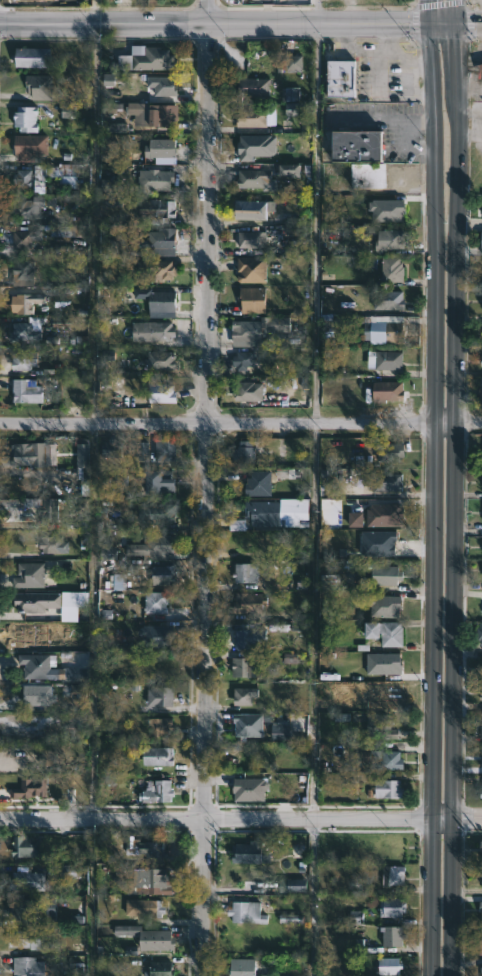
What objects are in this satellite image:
building: (29, 0)
building: (117, 0)
building: (117, 1)
road: (437, 3)
road: (466, 3)
road: (316, 12)
road: (468, 23)
road: (411, 24)
road: (241, 25)
traffic signals: (426, 25)
traffic signals: (450, 25)
road: (441, 41)
building: (35, 57)
building: (153, 59)
building: (293, 65)
building: (478, 69)
building: (361, 77)
building: (336, 79)
building: (161, 85)
building: (41, 86)
building: (251, 87)
building: (158, 115)
building: (249, 118)
building: (25, 119)
building: (350, 146)
building: (27, 149)
building: (158, 152)
building: (68, 171)
building: (290, 172)
building: (27, 175)
building: (365, 175)
building: (151, 176)
building: (250, 179)
building: (30, 208)
building: (252, 209)
building: (153, 210)
road: (467, 213)
road: (318, 223)
road: (97, 224)
building: (161, 238)
building: (21, 239)
building: (391, 239)
building: (252, 240)
building: (480, 240)
building: (248, 269)
building: (391, 269)
building: (159, 270)
building: (21, 274)
building: (152, 298)
building: (250, 300)
building: (386, 301)
building: (27, 304)
building: (327, 323)
building: (275, 324)
building: (381, 329)
building: (27, 331)
building: (154, 332)
building: (246, 333)
building: (26, 360)
building: (246, 360)
building: (385, 360)
building: (163, 361)
building: (480, 361)
building: (481, 390)
building: (385, 391)
building: (28, 392)
building: (250, 392)
building: (163, 393)
road: (240, 423)
building: (114, 449)
building: (168, 449)
building: (145, 452)
building: (387, 452)
building: (243, 453)
building: (30, 455)
building: (82, 457)
building: (163, 479)
building: (481, 480)
building: (382, 482)
building: (255, 484)
road: (202, 487)
road: (429, 487)
road: (452, 487)
building: (47, 509)
building: (261, 512)
building: (161, 514)
building: (51, 544)
building: (146, 549)
building: (373, 571)
building: (242, 573)
building: (31, 576)
building: (163, 576)
building: (39, 602)
building: (158, 602)
building: (247, 603)
road: (316, 622)
building: (384, 631)
building: (478, 634)
building: (243, 637)
building: (480, 663)
building: (41, 667)
building: (241, 667)
building: (481, 668)
building: (478, 695)
building: (40, 696)
building: (162, 696)
building: (240, 696)
building: (245, 724)
building: (481, 724)
building: (162, 726)
building: (380, 727)
building: (160, 756)
building: (47, 759)
building: (385, 760)
building: (481, 779)
building: (34, 787)
building: (386, 788)
building: (481, 789)
building: (160, 791)
building: (479, 792)
road: (241, 822)
building: (29, 845)
building: (387, 847)
building: (479, 847)
building: (154, 848)
building: (249, 851)
building: (481, 869)
building: (67, 874)
building: (396, 877)
building: (30, 880)
building: (480, 881)
building: (153, 882)
road: (92, 899)
road: (312, 899)
building: (389, 906)
building: (142, 908)
building: (27, 909)
building: (479, 910)
building: (244, 912)
building: (128, 932)
building: (390, 935)
building: (33, 939)
building: (163, 940)
building: (478, 946)
building: (81, 949)
building: (386, 965)
building: (27, 966)
building: (239, 966)
building: (162, 968)
building: (480, 969)

